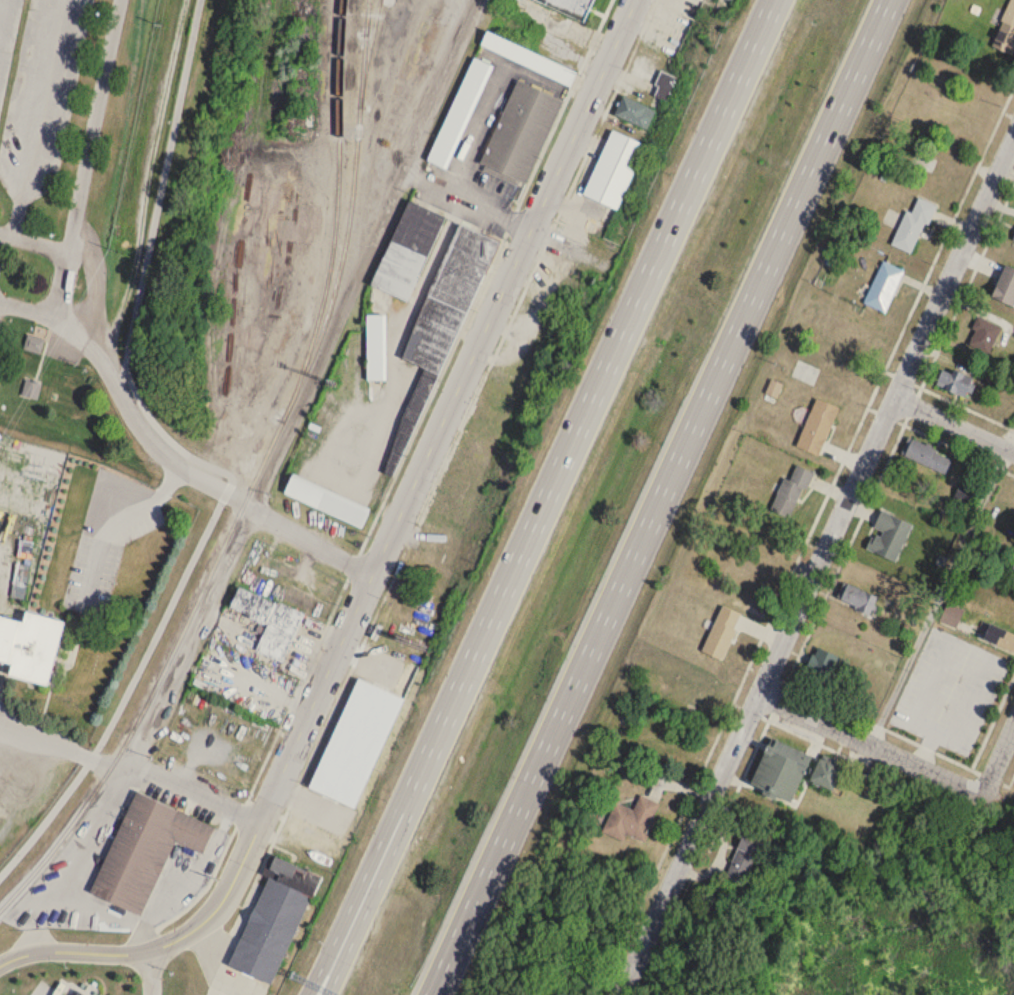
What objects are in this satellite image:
building: (712, 1)
building: (570, 7)
railway: (369, 8)
building: (1006, 30)
railway: (366, 36)
railway: (372, 36)
parking lot: (37, 98)
building: (635, 112)
building: (524, 113)
building: (459, 114)
road: (36, 117)
road: (85, 155)
building: (613, 167)
road: (468, 201)
building: (913, 222)
railway: (348, 239)
building: (1013, 240)
building: (407, 251)
road: (141, 272)
road: (62, 281)
building: (884, 284)
building: (1004, 287)
road: (29, 309)
building: (983, 335)
building: (436, 337)
building: (375, 348)
building: (954, 382)
road: (314, 388)
building: (34, 390)
road: (593, 398)
building: (497, 404)
road: (967, 407)
road: (448, 411)
road: (137, 423)
building: (817, 424)
road: (954, 425)
building: (926, 457)
road: (676, 464)
railway: (255, 483)
building: (790, 488)
building: (325, 502)
building: (461, 507)
road: (842, 511)
road: (127, 525)
building: (888, 537)
road: (308, 541)
road: (938, 595)
building: (855, 599)
building: (268, 622)
building: (721, 630)
building: (999, 638)
building: (34, 643)
building: (820, 668)
road: (127, 691)
road: (872, 743)
road: (62, 746)
road: (1000, 755)
building: (779, 773)
building: (824, 776)
road: (194, 791)
building: (630, 819)
building: (145, 850)
road: (70, 856)
building: (743, 857)
road: (193, 871)
road: (357, 894)
road: (374, 897)
road: (112, 908)
park: (876, 916)
building: (273, 920)
road: (645, 938)
road: (161, 946)
road: (447, 961)
road: (452, 961)
road: (151, 972)
building: (80, 992)

